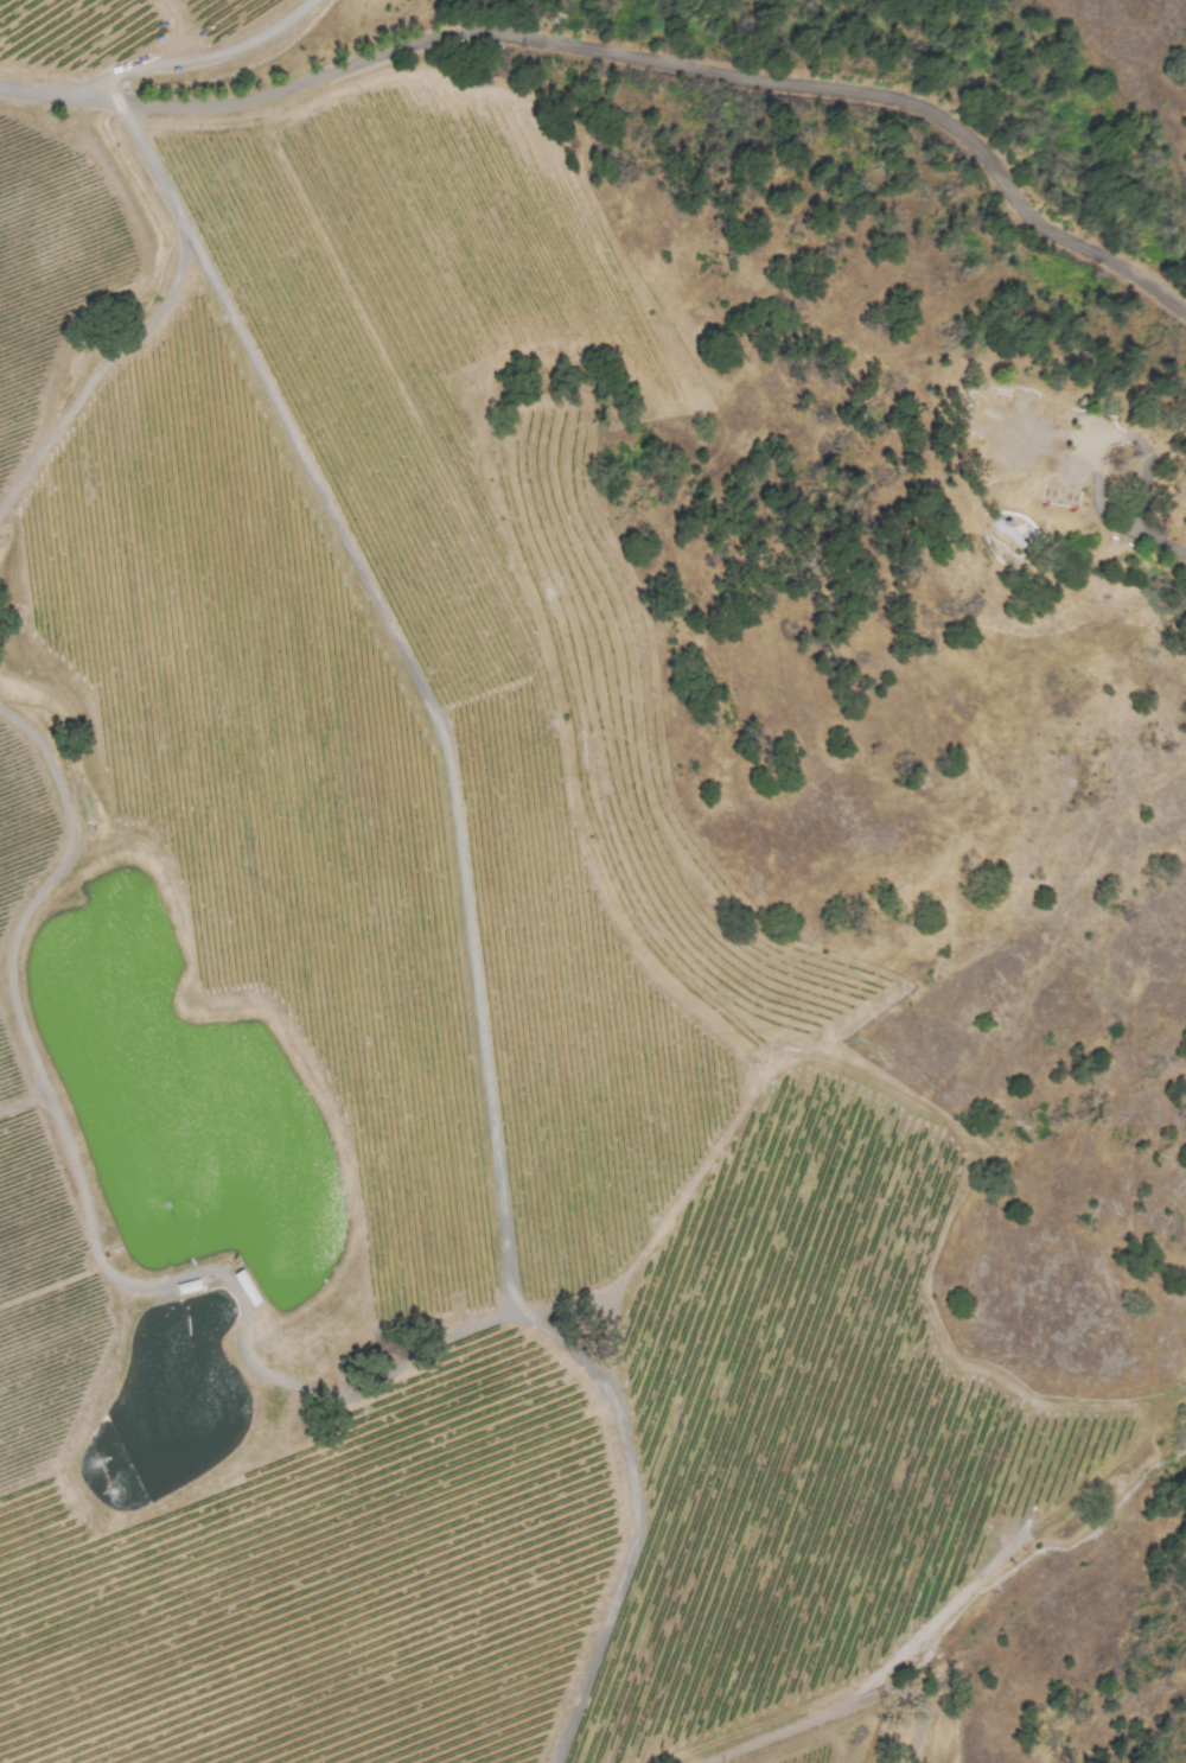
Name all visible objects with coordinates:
road: (684, 66)
road: (59, 95)
road: (1110, 437)
road: (1161, 540)
road: (455, 798)
road: (839, 1707)

